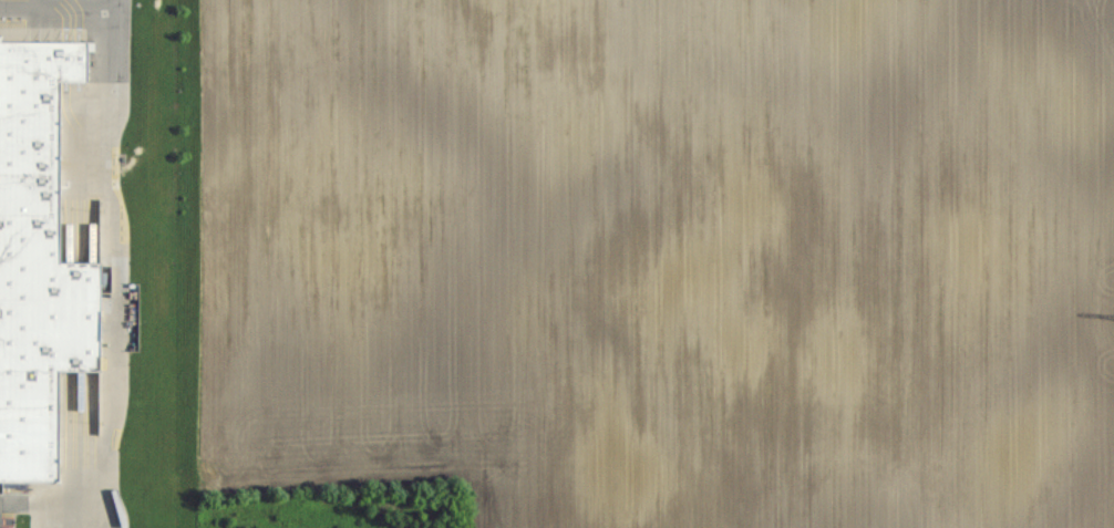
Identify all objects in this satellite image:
road: (74, 0)
road: (85, 1)
road: (110, 39)
building: (39, 260)
road: (117, 333)
road: (13, 500)

